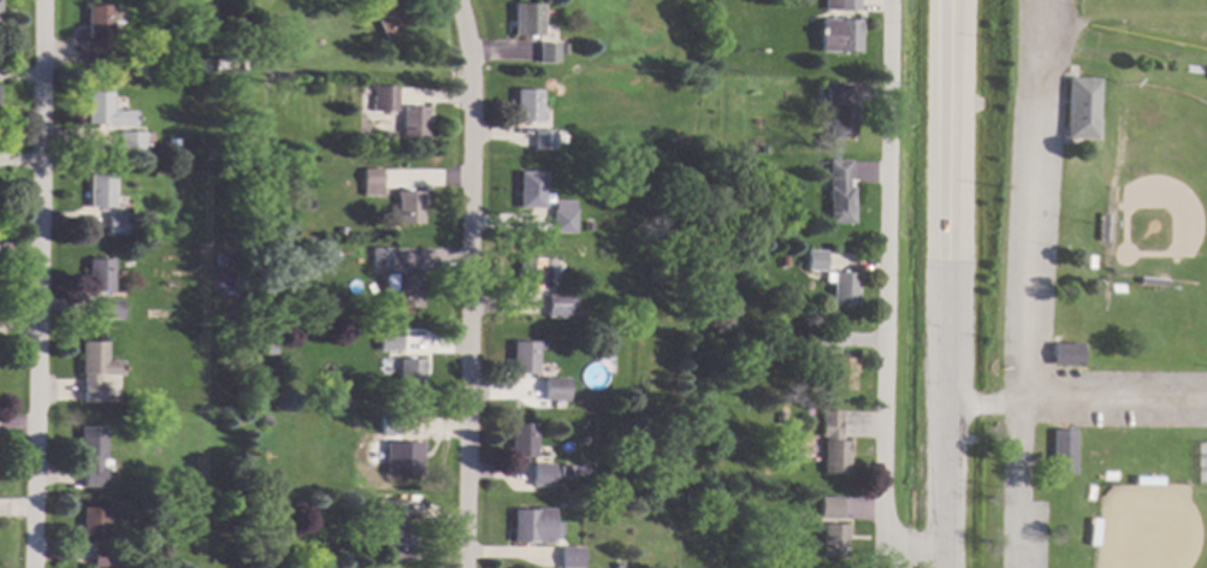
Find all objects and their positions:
building: (164, 1)
building: (840, 5)
building: (386, 17)
building: (527, 19)
park: (1152, 19)
building: (99, 35)
building: (838, 35)
building: (564, 49)
building: (548, 53)
building: (230, 65)
building: (385, 99)
building: (527, 105)
building: (1079, 108)
building: (838, 110)
building: (102, 111)
building: (414, 123)
building: (389, 137)
building: (561, 138)
building: (543, 140)
building: (130, 142)
building: (172, 143)
building: (762, 149)
building: (371, 183)
park: (1155, 187)
building: (773, 189)
building: (529, 190)
building: (99, 191)
building: (839, 193)
building: (408, 207)
building: (562, 220)
building: (114, 224)
building: (587, 226)
building: (1102, 226)
building: (381, 258)
building: (813, 260)
building: (783, 261)
building: (531, 274)
building: (99, 276)
building: (1153, 280)
road: (468, 283)
road: (36, 284)
road: (953, 284)
building: (841, 288)
building: (404, 290)
road: (891, 303)
building: (556, 306)
building: (110, 309)
building: (576, 312)
building: (792, 331)
road: (1023, 338)
building: (389, 341)
building: (815, 341)
building: (271, 350)
building: (1066, 353)
building: (523, 357)
building: (95, 369)
building: (841, 373)
building: (410, 375)
building: (555, 389)
road: (1079, 404)
building: (780, 418)
building: (265, 421)
building: (390, 425)
building: (522, 440)
building: (834, 444)
building: (1063, 451)
building: (91, 456)
building: (408, 458)
building: (542, 477)
building: (233, 479)
building: (1146, 480)
building: (693, 496)
building: (830, 507)
building: (387, 511)
building: (94, 523)
building: (533, 525)
park: (1152, 527)
building: (1093, 531)
building: (398, 539)
building: (834, 540)
building: (101, 557)
building: (570, 557)
building: (125, 564)

